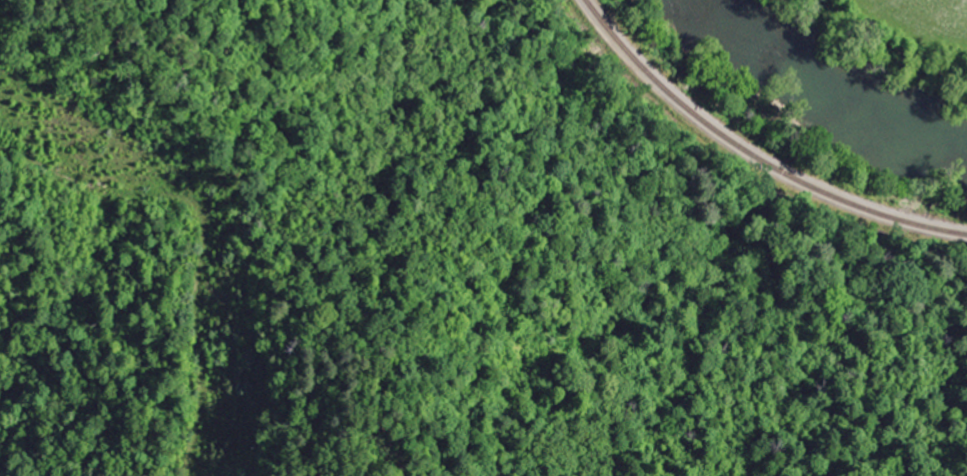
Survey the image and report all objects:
river: (867, 48)
railway: (753, 153)

